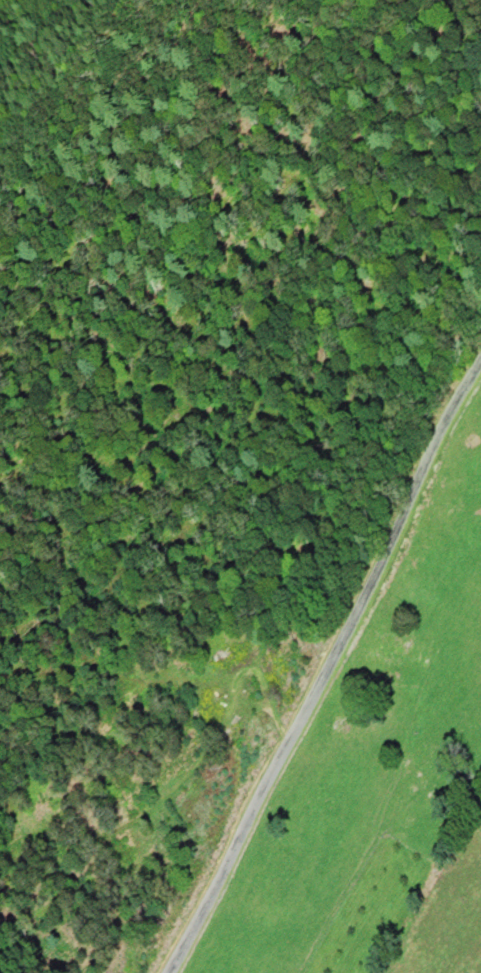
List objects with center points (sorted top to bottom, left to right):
road: (329, 666)

